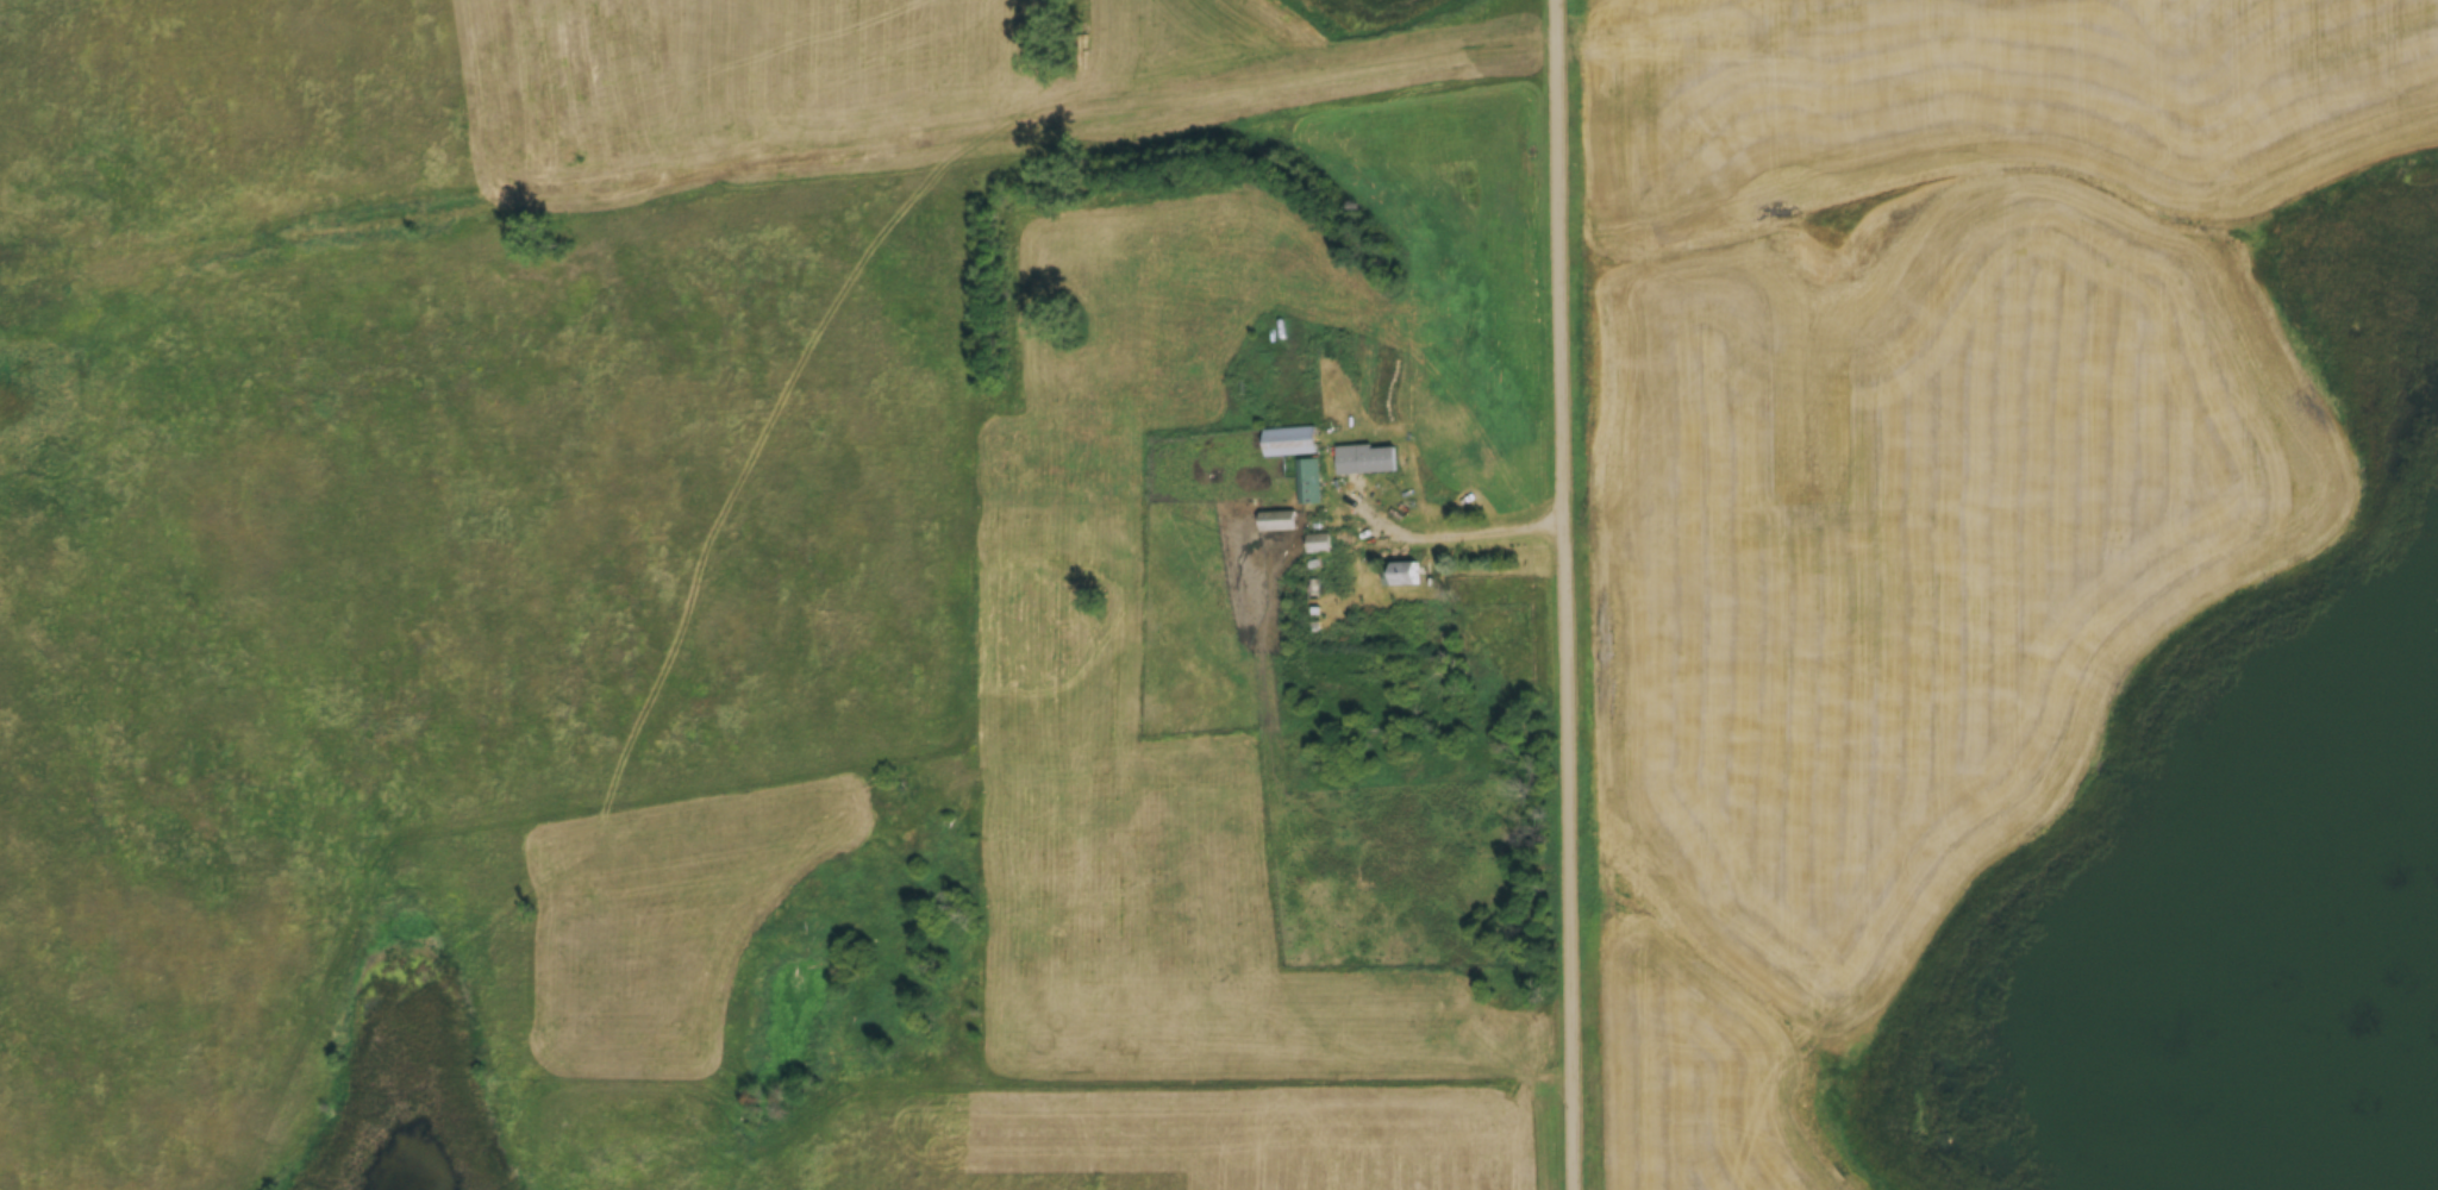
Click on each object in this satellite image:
building: (1288, 443)
building: (1307, 483)
building: (1276, 522)
building: (1400, 575)
road: (1568, 595)

